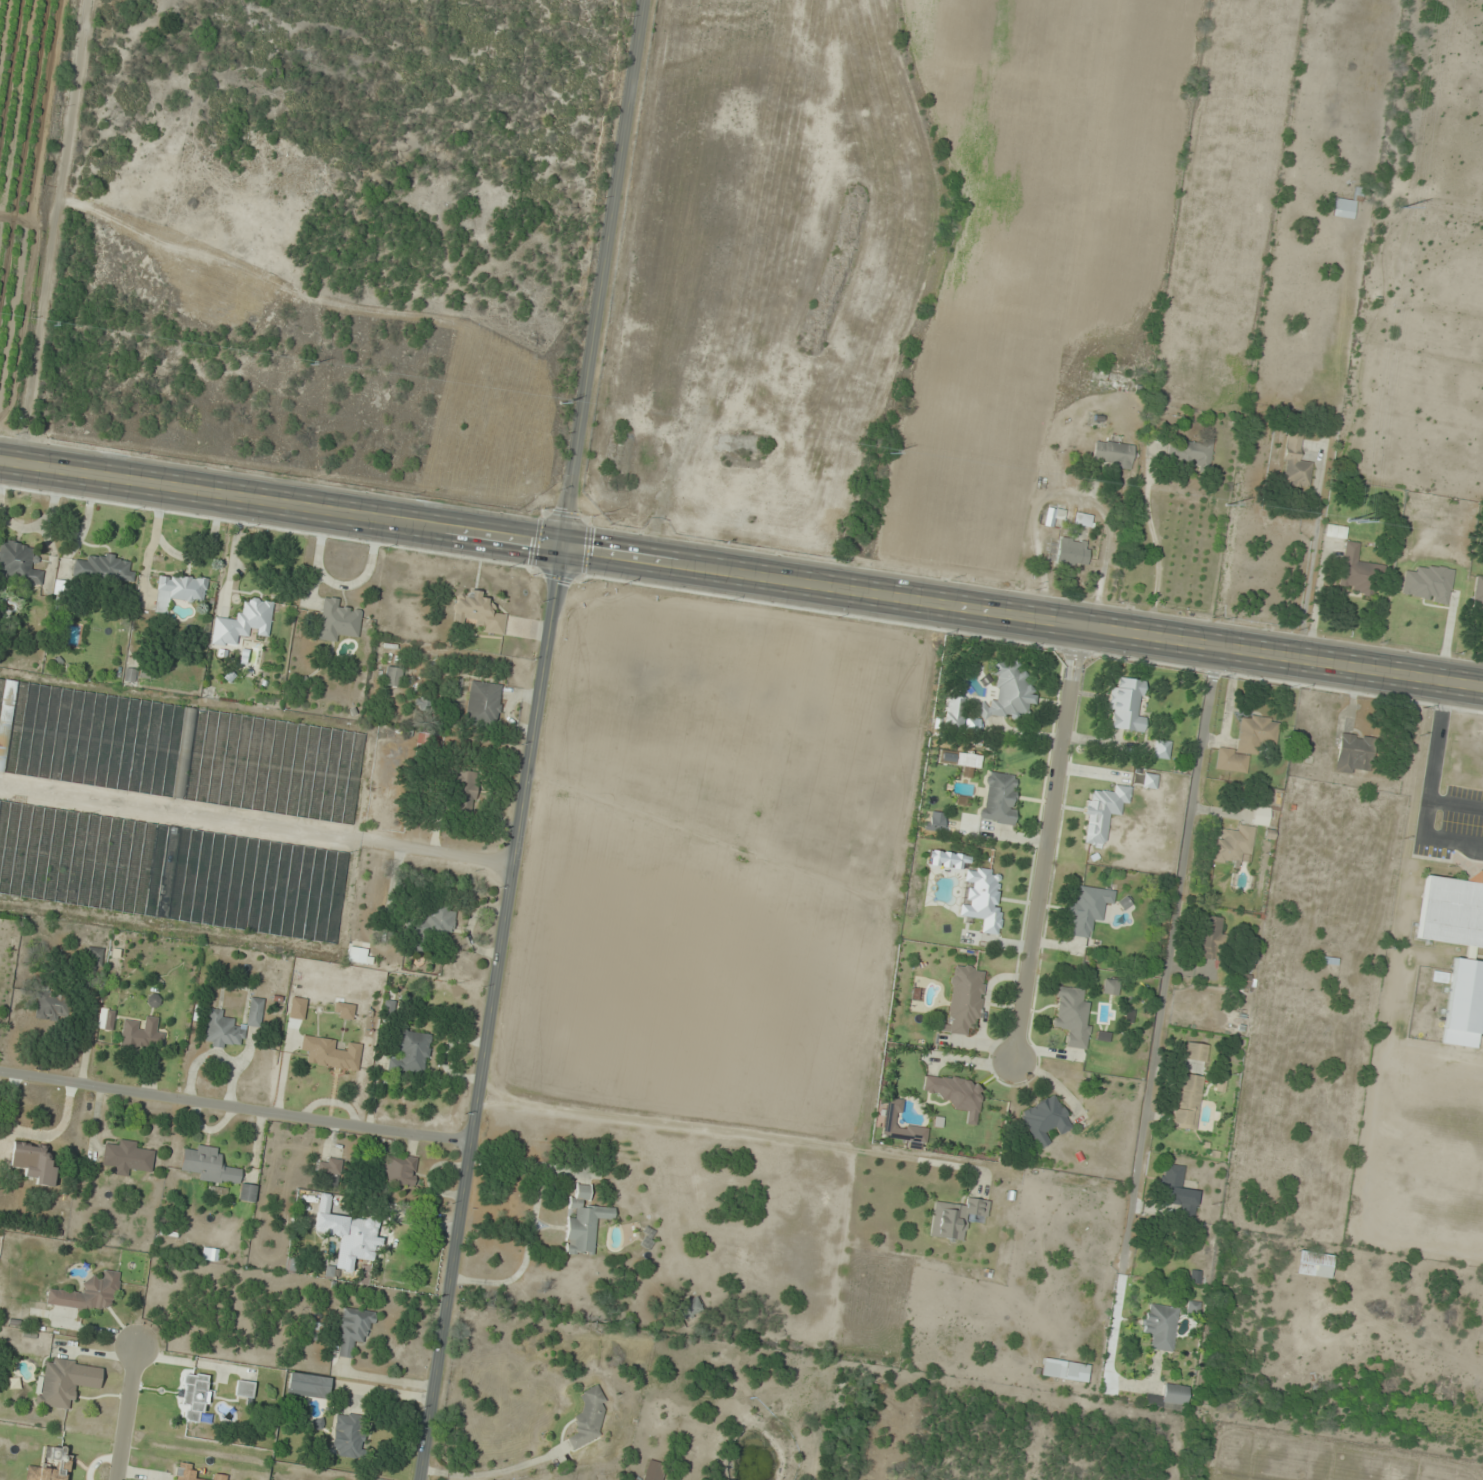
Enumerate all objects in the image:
building: (1344, 208)
road: (607, 279)
building: (1189, 452)
building: (1112, 453)
building: (1295, 462)
road: (283, 514)
building: (1053, 515)
building: (1082, 519)
building: (1336, 531)
building: (1072, 552)
traffic signals: (567, 559)
building: (19, 563)
building: (104, 568)
building: (1356, 571)
building: (1427, 583)
building: (61, 587)
building: (178, 590)
building: (1477, 596)
building: (477, 611)
building: (337, 620)
building: (243, 622)
road: (1025, 623)
building: (393, 676)
building: (1008, 690)
building: (483, 704)
building: (1127, 704)
building: (954, 713)
building: (1247, 742)
building: (179, 749)
building: (1161, 749)
building: (1355, 752)
building: (967, 761)
building: (1145, 780)
building: (465, 789)
building: (999, 797)
building: (1103, 812)
building: (1260, 815)
building: (935, 821)
building: (1233, 845)
road: (1049, 848)
building: (171, 871)
building: (981, 899)
building: (1088, 908)
building: (432, 924)
building: (1208, 936)
road: (1168, 954)
building: (95, 956)
building: (359, 956)
building: (1465, 960)
building: (1110, 987)
building: (964, 999)
building: (52, 1006)
building: (255, 1011)
building: (1072, 1015)
road: (492, 1019)
building: (222, 1030)
building: (142, 1034)
building: (1195, 1052)
building: (330, 1053)
building: (410, 1054)
building: (956, 1093)
building: (1186, 1101)
road: (237, 1111)
building: (1045, 1120)
building: (900, 1125)
building: (128, 1157)
building: (34, 1162)
building: (215, 1169)
building: (396, 1169)
building: (330, 1170)
building: (1177, 1191)
building: (955, 1218)
building: (583, 1221)
building: (350, 1238)
building: (1313, 1264)
building: (1194, 1277)
building: (88, 1294)
building: (689, 1307)
building: (1159, 1326)
building: (353, 1329)
building: (1064, 1370)
building: (65, 1381)
building: (308, 1385)
building: (244, 1388)
building: (1169, 1396)
building: (194, 1397)
road: (127, 1412)
building: (588, 1418)
building: (348, 1434)
building: (50, 1465)
building: (654, 1471)
building: (192, 1472)

